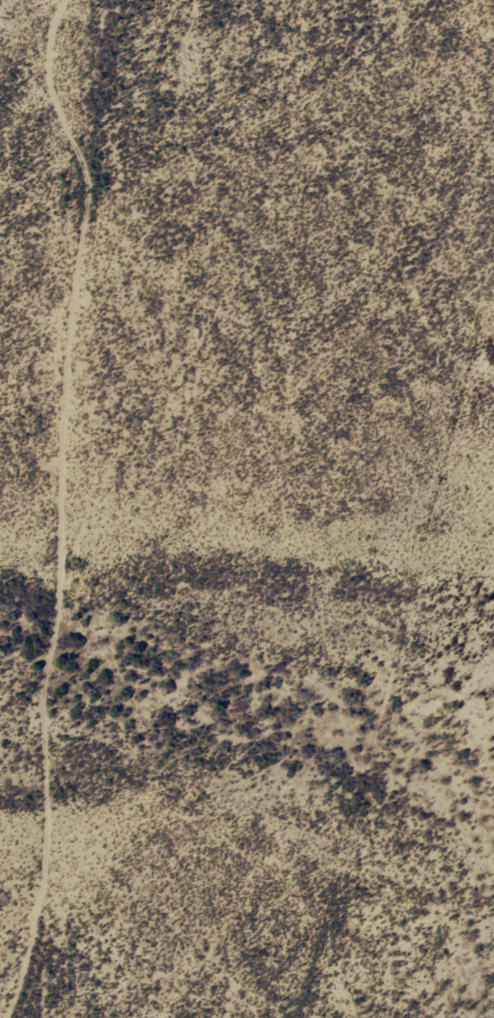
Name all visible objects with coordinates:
road: (37, 504)

